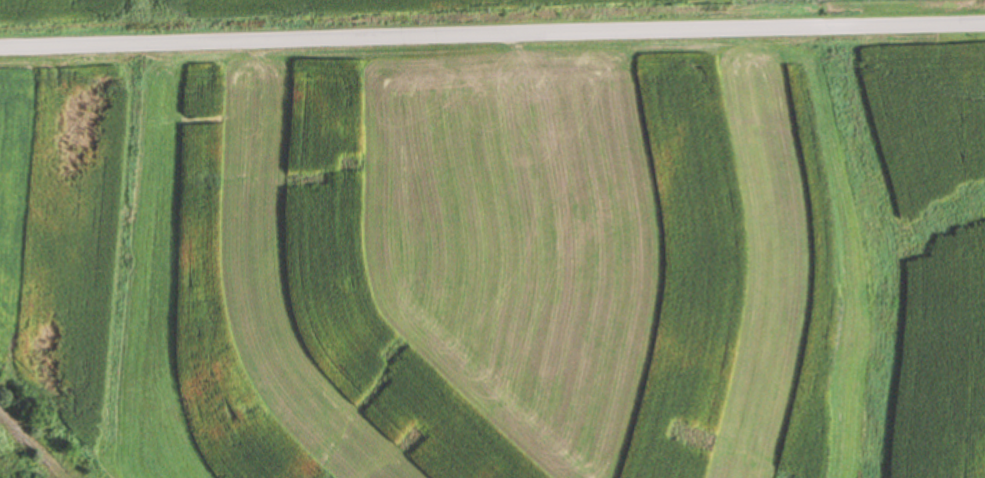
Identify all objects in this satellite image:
road: (492, 33)

